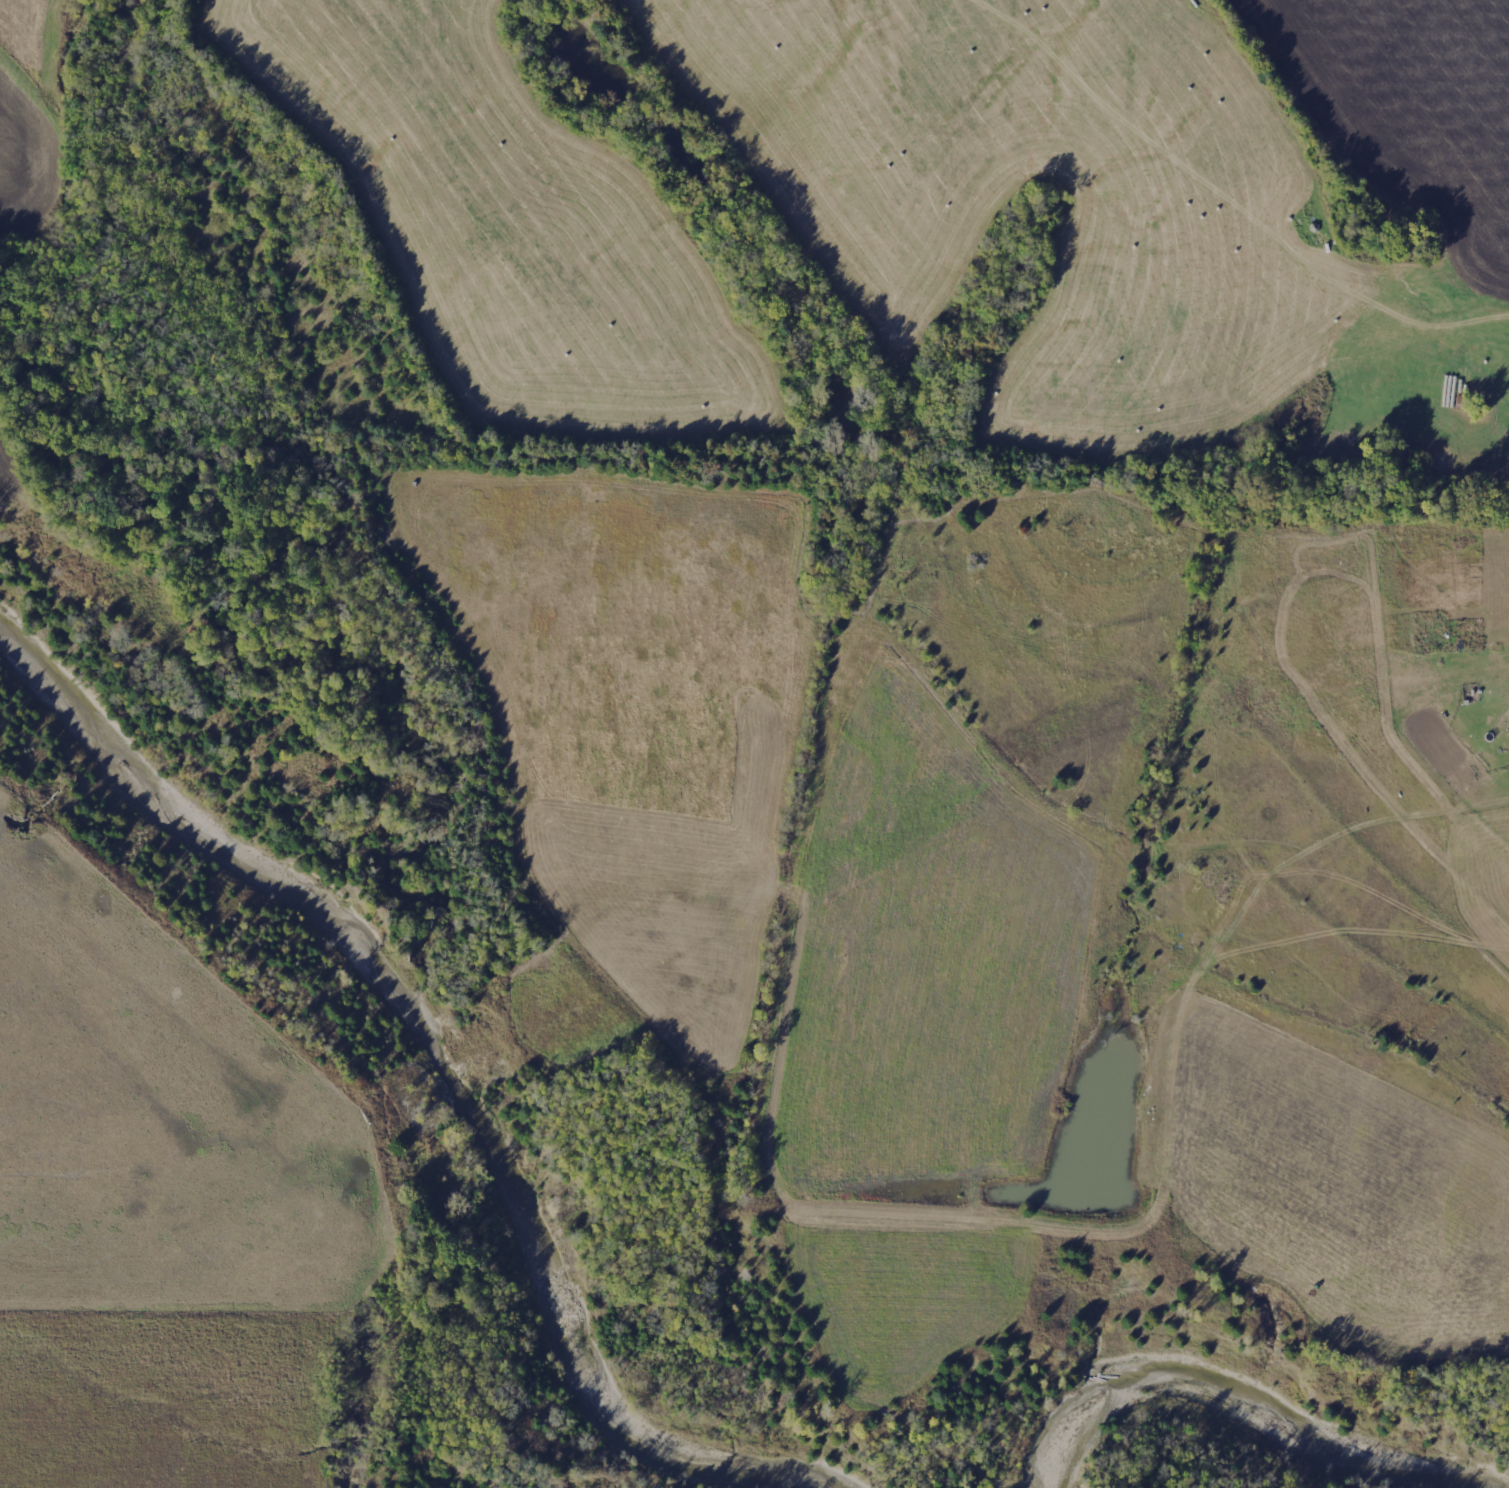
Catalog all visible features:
road: (1503, 716)

